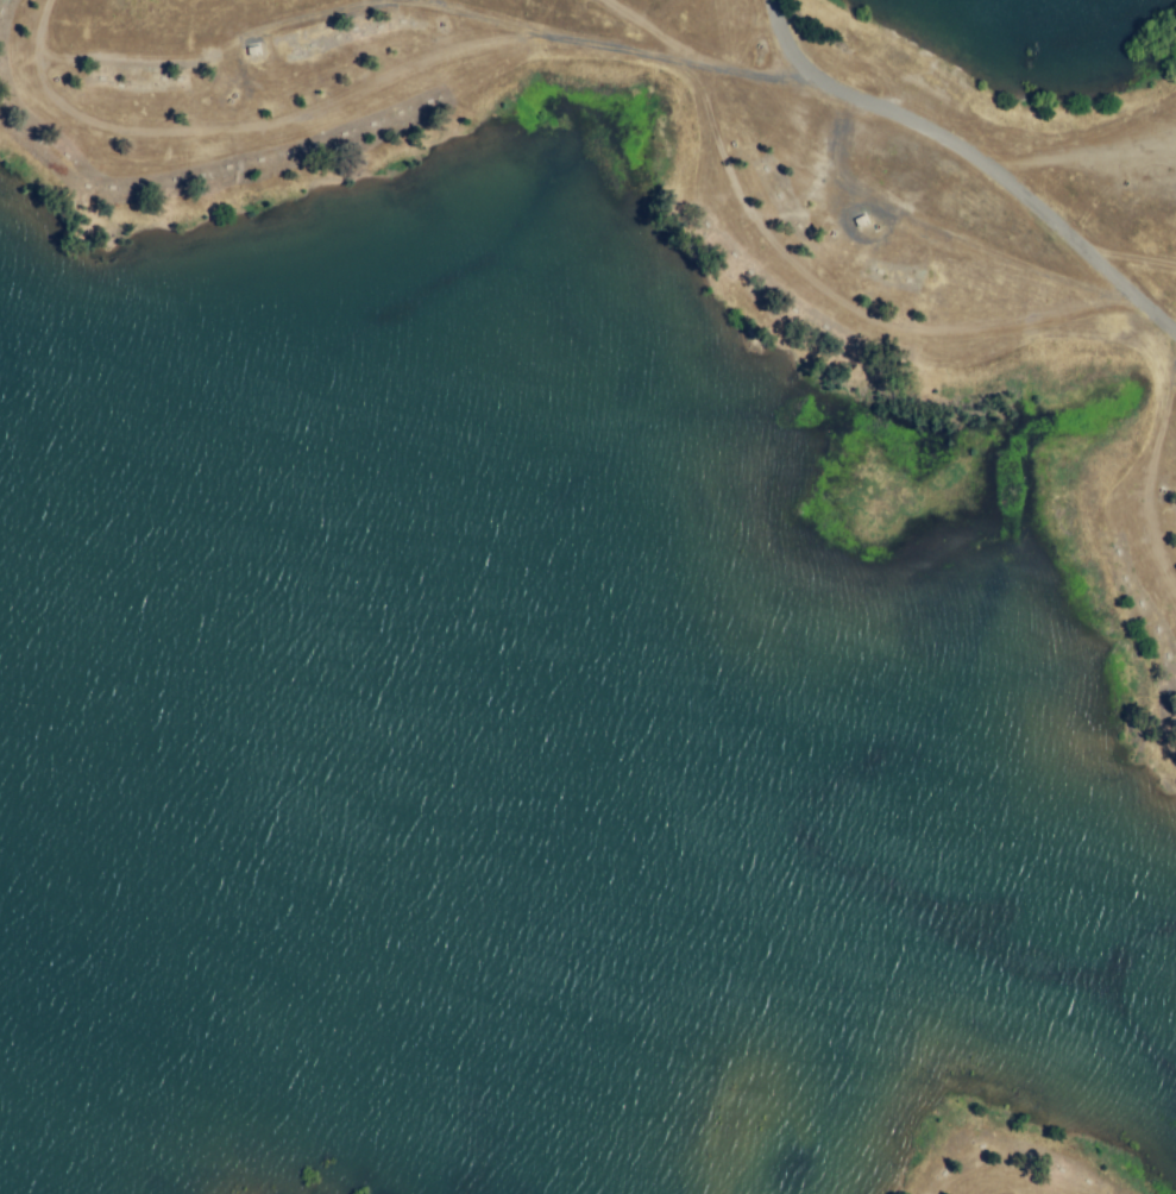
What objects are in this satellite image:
road: (971, 159)

